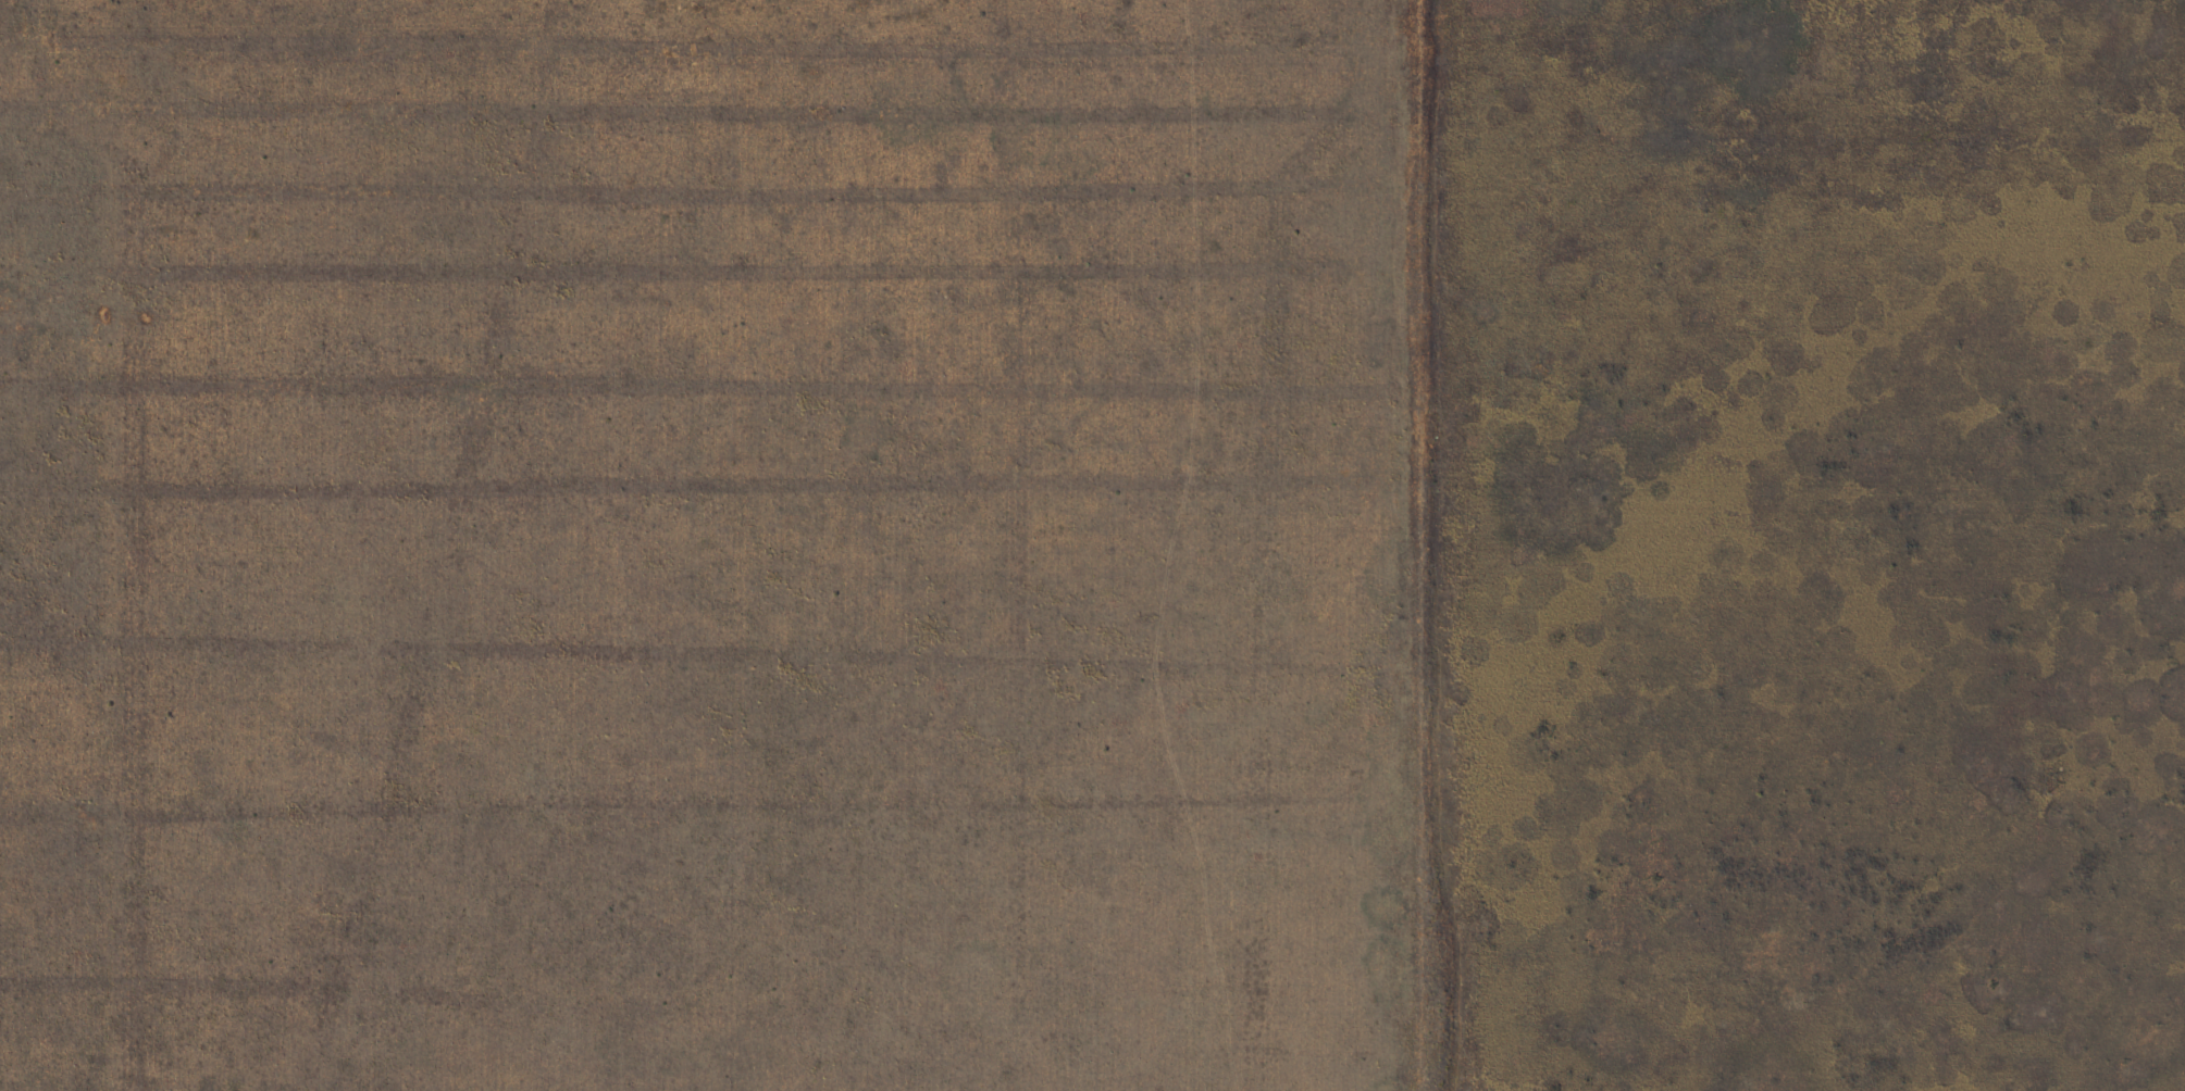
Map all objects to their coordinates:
road: (690, 116)
road: (2058, 457)
road: (126, 595)

